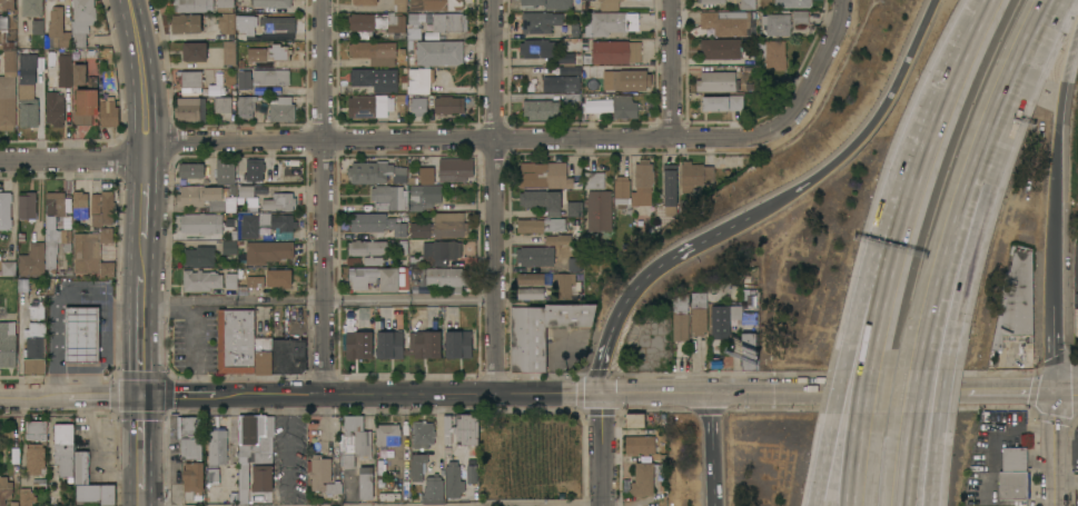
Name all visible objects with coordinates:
building: (711, 1)
building: (363, 2)
building: (273, 3)
building: (547, 3)
building: (746, 3)
building: (792, 3)
building: (7, 4)
building: (442, 4)
building: (607, 4)
building: (192, 6)
building: (225, 6)
building: (399, 6)
building: (31, 8)
building: (800, 17)
building: (415, 18)
building: (82, 20)
building: (227, 22)
building: (449, 22)
building: (538, 22)
building: (611, 22)
building: (730, 22)
building: (186, 23)
building: (246, 23)
building: (277, 23)
building: (377, 23)
building: (778, 23)
building: (58, 29)
building: (413, 33)
building: (6, 41)
building: (537, 48)
building: (722, 48)
road: (822, 48)
building: (195, 51)
building: (374, 51)
building: (614, 51)
building: (229, 52)
building: (268, 52)
building: (437, 52)
building: (85, 53)
building: (775, 54)
building: (566, 59)
building: (63, 68)
road: (672, 69)
building: (573, 70)
road: (142, 71)
building: (78, 75)
building: (270, 77)
building: (362, 77)
building: (631, 79)
building: (244, 80)
building: (421, 80)
building: (726, 81)
building: (189, 82)
building: (561, 83)
road: (947, 87)
building: (28, 90)
road: (1015, 90)
building: (8, 91)
building: (212, 91)
building: (86, 102)
building: (735, 102)
building: (448, 103)
building: (714, 103)
building: (220, 105)
building: (245, 106)
building: (366, 106)
building: (418, 106)
building: (624, 107)
building: (55, 108)
building: (189, 109)
building: (281, 109)
building: (540, 109)
building: (108, 111)
road: (868, 129)
road: (406, 141)
road: (1057, 143)
building: (253, 169)
building: (456, 169)
building: (191, 170)
building: (224, 170)
building: (376, 172)
building: (544, 175)
building: (426, 176)
building: (695, 176)
building: (595, 180)
building: (634, 187)
building: (669, 189)
road: (146, 190)
building: (231, 190)
building: (246, 191)
building: (197, 195)
building: (390, 196)
road: (495, 196)
road: (325, 197)
building: (423, 197)
building: (542, 200)
building: (278, 201)
building: (229, 204)
building: (80, 205)
building: (28, 206)
building: (574, 208)
building: (6, 210)
building: (600, 210)
road: (903, 216)
building: (201, 222)
building: (265, 224)
building: (377, 224)
building: (540, 225)
building: (441, 226)
building: (576, 228)
building: (58, 236)
building: (96, 237)
building: (558, 239)
building: (229, 247)
building: (366, 248)
building: (267, 251)
building: (441, 252)
building: (200, 256)
building: (532, 256)
road: (144, 257)
building: (32, 260)
building: (572, 264)
building: (8, 268)
building: (299, 272)
building: (439, 277)
building: (277, 278)
building: (379, 278)
building: (530, 278)
road: (957, 278)
building: (201, 280)
road: (645, 280)
building: (230, 281)
building: (255, 281)
building: (564, 285)
building: (241, 291)
building: (531, 294)
road: (319, 299)
road: (55, 301)
building: (1017, 305)
building: (36, 306)
road: (858, 307)
road: (880, 311)
building: (734, 312)
building: (698, 314)
building: (680, 317)
building: (719, 320)
road: (1054, 323)
building: (542, 330)
building: (82, 334)
road: (142, 337)
building: (235, 341)
road: (107, 344)
building: (425, 344)
building: (458, 344)
building: (8, 345)
building: (359, 345)
building: (389, 345)
building: (34, 349)
building: (750, 350)
building: (263, 355)
building: (289, 356)
road: (101, 361)
road: (1072, 366)
road: (88, 368)
traffic signals: (1056, 388)
road: (1067, 388)
road: (975, 389)
road: (779, 391)
road: (839, 391)
road: (864, 391)
road: (402, 394)
traffic signals: (602, 394)
road: (929, 394)
road: (70, 398)
traffic signals: (141, 398)
road: (1056, 408)
building: (635, 419)
building: (465, 428)
road: (1023, 428)
road: (21, 429)
building: (446, 429)
building: (36, 430)
building: (387, 434)
building: (422, 435)
building: (190, 436)
building: (354, 441)
road: (141, 445)
building: (640, 445)
building: (63, 448)
building: (216, 448)
road: (602, 449)
road: (714, 449)
building: (255, 452)
building: (36, 459)
road: (825, 460)
road: (857, 460)
road: (920, 462)
road: (1056, 464)
building: (417, 467)
building: (471, 474)
building: (1013, 474)
building: (324, 478)
building: (85, 479)
building: (194, 479)
building: (212, 479)
building: (643, 479)
building: (453, 480)
building: (365, 486)
building: (6, 489)
building: (432, 490)
building: (108, 495)
building: (26, 496)
road: (141, 499)
road: (487, 502)
road: (1057, 503)

